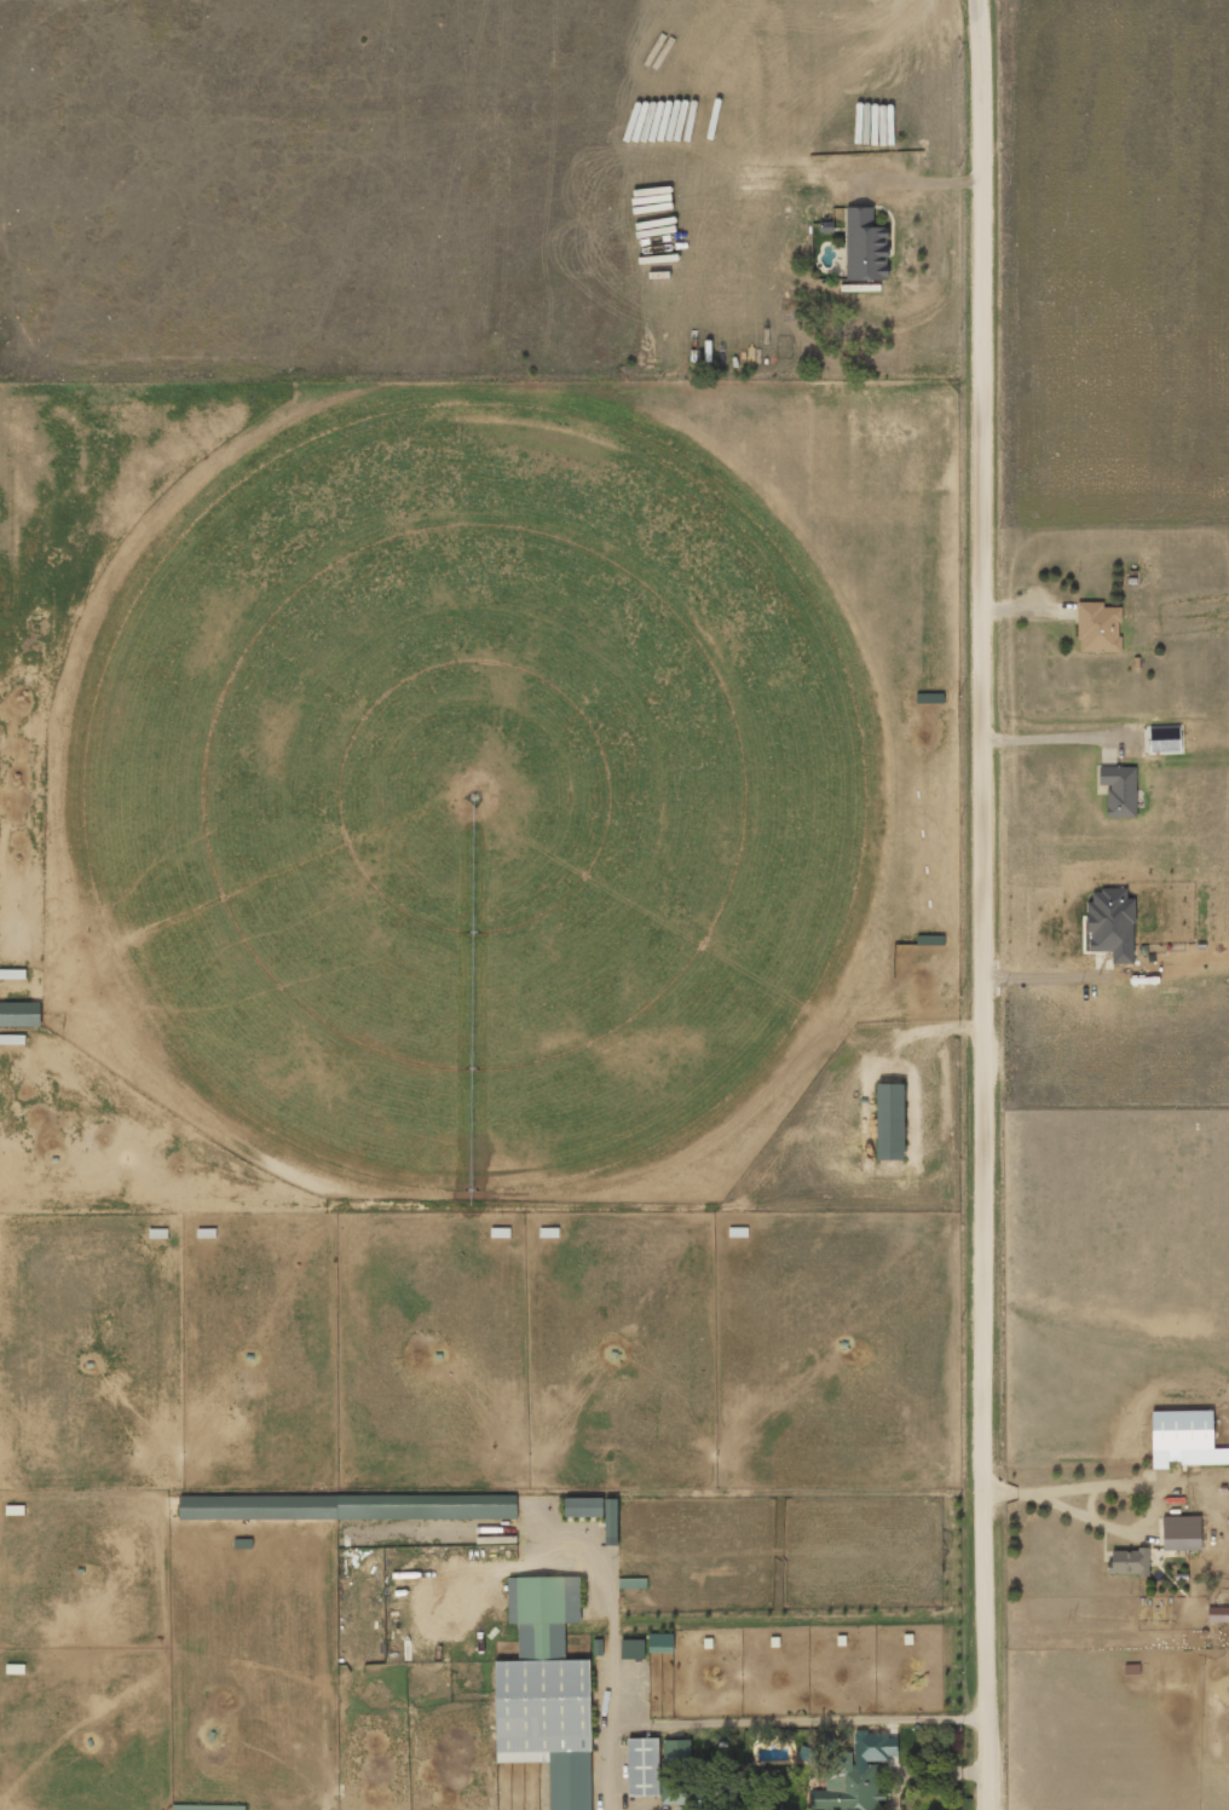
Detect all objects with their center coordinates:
building: (866, 247)
building: (1098, 628)
crop: (478, 783)
building: (1120, 791)
road: (982, 904)
building: (21, 1014)
building: (888, 1123)
building: (1185, 1439)
building: (427, 1508)
building: (584, 1508)
building: (612, 1518)
building: (1181, 1534)
building: (1130, 1562)
building: (660, 1643)
building: (633, 1649)
building: (547, 1691)
building: (644, 1768)
building: (856, 1775)
building: (715, 1805)

